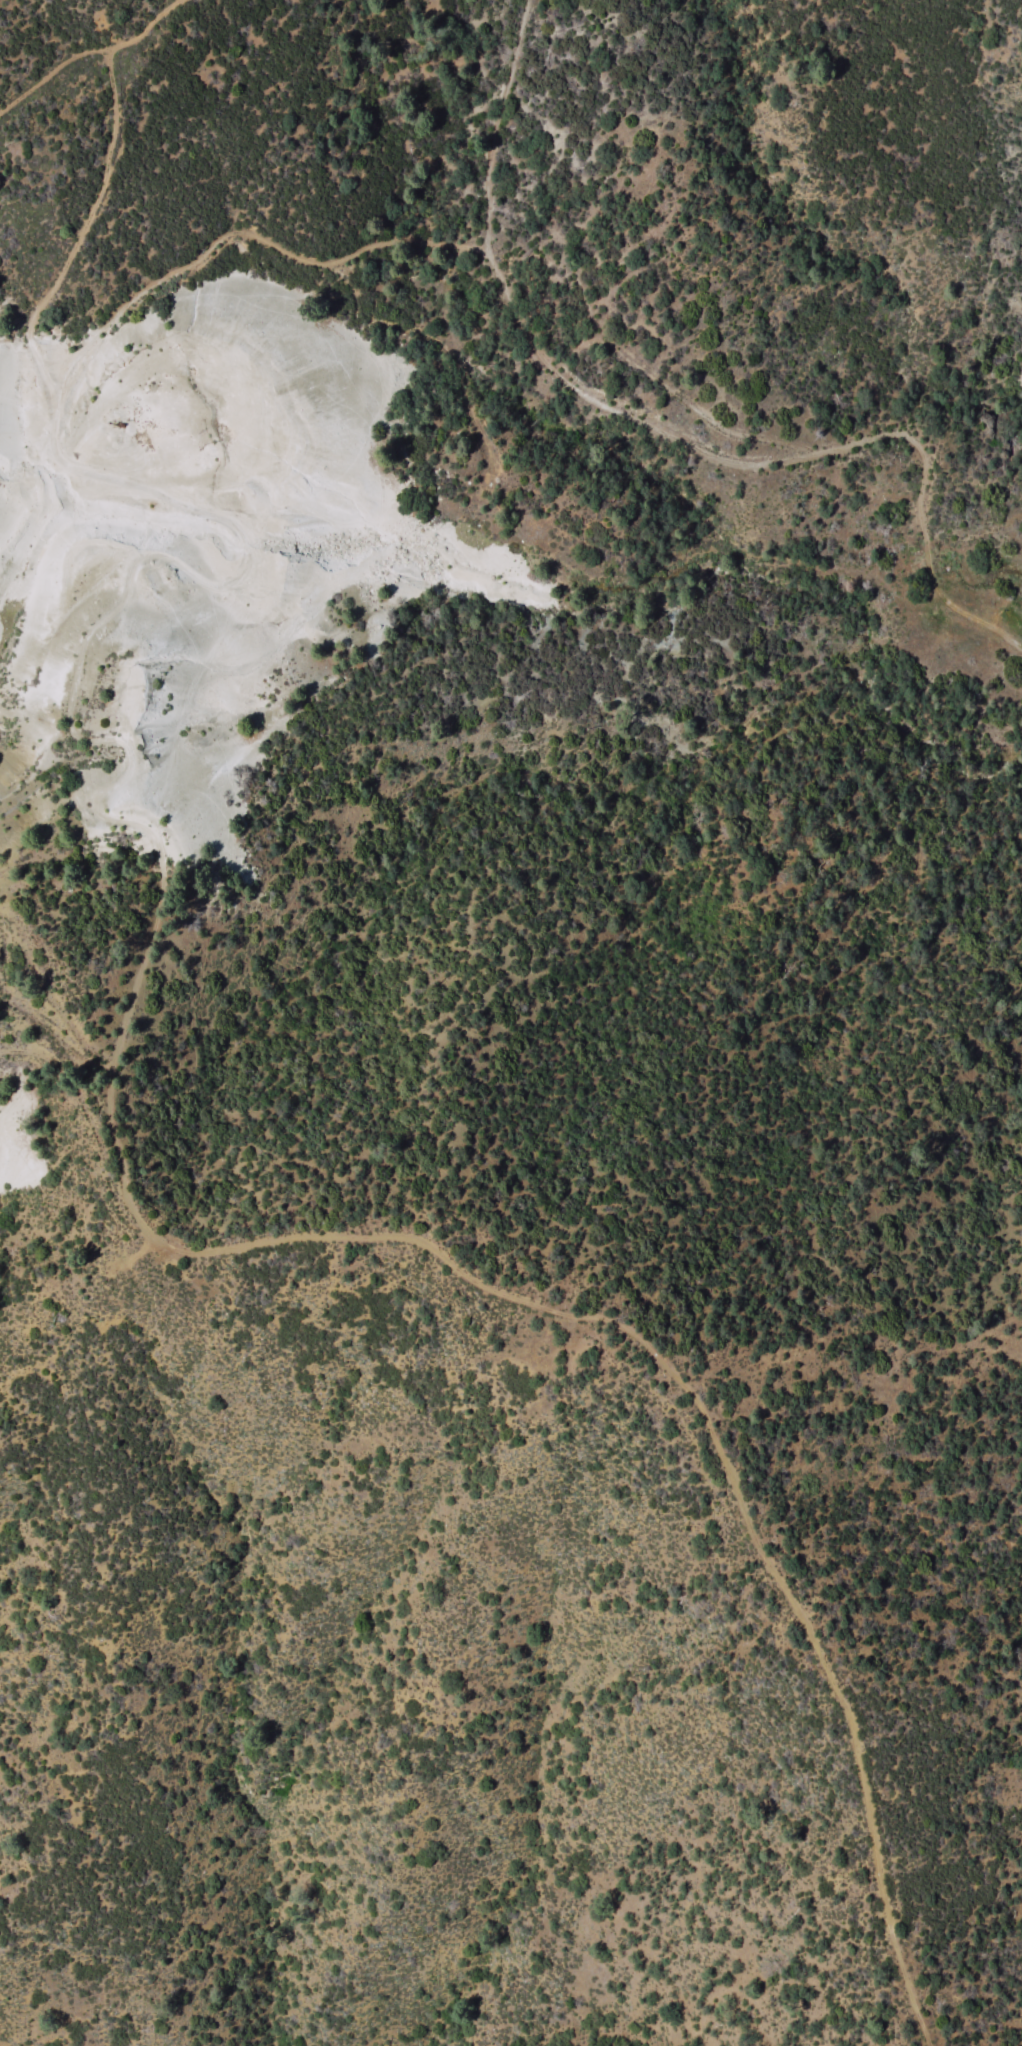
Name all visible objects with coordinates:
quarry: (192, 540)
quarry: (11, 1173)
road: (636, 1341)

